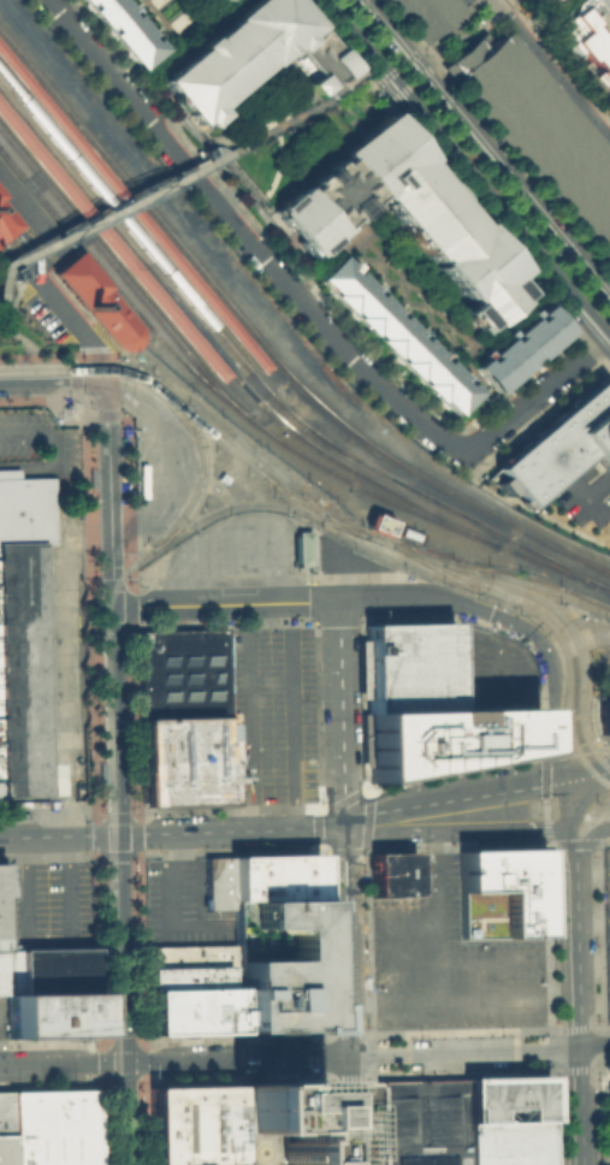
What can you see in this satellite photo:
building: (213, 0)
building: (537, 0)
building: (552, 0)
building: (425, 13)
parking lot: (425, 13)
building: (126, 28)
road: (458, 30)
building: (586, 39)
building: (253, 57)
road: (550, 70)
road: (402, 77)
road: (368, 83)
road: (349, 104)
railway: (32, 110)
building: (55, 116)
road: (288, 120)
building: (14, 125)
road: (168, 126)
building: (540, 130)
parking lot: (540, 130)
road: (217, 144)
road: (212, 149)
road: (482, 153)
road: (229, 166)
road: (277, 166)
road: (466, 170)
railway: (35, 195)
road: (254, 201)
road: (111, 209)
building: (405, 215)
building: (6, 218)
road: (238, 232)
road: (262, 239)
road: (8, 268)
road: (31, 274)
railway: (122, 274)
railway: (119, 285)
road: (12, 300)
building: (96, 300)
road: (1, 325)
building: (398, 337)
railway: (266, 348)
building: (522, 349)
railway: (218, 351)
road: (43, 356)
railway: (268, 366)
railway: (94, 368)
railway: (226, 374)
road: (54, 378)
traffic signals: (108, 385)
road: (531, 396)
railway: (297, 419)
road: (523, 421)
railway: (229, 430)
road: (49, 443)
building: (561, 443)
road: (111, 450)
road: (549, 451)
road: (171, 462)
road: (8, 472)
railway: (201, 483)
parking lot: (582, 490)
railway: (367, 491)
road: (584, 493)
road: (520, 502)
railway: (312, 507)
building: (377, 522)
road: (608, 524)
road: (236, 542)
building: (302, 548)
railway: (433, 558)
road: (114, 560)
road: (58, 561)
railway: (436, 567)
railway: (552, 567)
railway: (432, 573)
railway: (527, 581)
road: (108, 584)
road: (383, 599)
road: (226, 602)
road: (90, 604)
road: (128, 604)
traffic signals: (116, 605)
road: (478, 609)
road: (109, 626)
building: (22, 633)
road: (576, 640)
traffic signals: (547, 656)
railway: (107, 662)
building: (407, 666)
building: (180, 672)
road: (118, 698)
road: (551, 700)
road: (339, 711)
road: (291, 714)
road: (249, 715)
parking lot: (268, 715)
building: (606, 718)
road: (94, 721)
road: (59, 733)
building: (445, 738)
road: (604, 749)
building: (182, 759)
road: (584, 775)
traffic signals: (559, 780)
road: (368, 788)
road: (544, 790)
road: (450, 798)
road: (562, 803)
railway: (89, 809)
railway: (111, 812)
road: (120, 812)
road: (47, 816)
road: (113, 816)
traffic signals: (343, 823)
road: (454, 828)
road: (232, 829)
traffic signals: (122, 834)
road: (132, 834)
road: (91, 835)
road: (31, 836)
road: (97, 836)
road: (588, 839)
road: (568, 844)
road: (116, 856)
road: (592, 869)
building: (391, 873)
building: (273, 877)
building: (0, 881)
parking lot: (609, 881)
building: (217, 882)
building: (498, 892)
parking lot: (46, 904)
parking lot: (179, 904)
road: (593, 917)
road: (436, 930)
road: (46, 939)
road: (123, 948)
road: (393, 953)
building: (188, 954)
road: (507, 958)
parking lot: (448, 959)
road: (593, 963)
building: (274, 964)
building: (47, 969)
building: (1, 971)
building: (189, 976)
road: (347, 994)
railway: (117, 999)
road: (462, 1003)
road: (594, 1006)
building: (189, 1009)
road: (579, 1012)
road: (0, 1015)
building: (49, 1015)
parking lot: (2, 1016)
road: (599, 1042)
road: (594, 1047)
road: (546, 1052)
road: (328, 1054)
road: (458, 1054)
road: (375, 1055)
road: (236, 1059)
road: (63, 1064)
traffic signals: (125, 1064)
road: (103, 1078)
building: (507, 1099)
building: (4, 1112)
road: (125, 1114)
building: (421, 1120)
parking lot: (421, 1120)
building: (284, 1123)
building: (195, 1124)
building: (52, 1126)
building: (508, 1142)
parking lot: (508, 1142)
building: (5, 1149)

